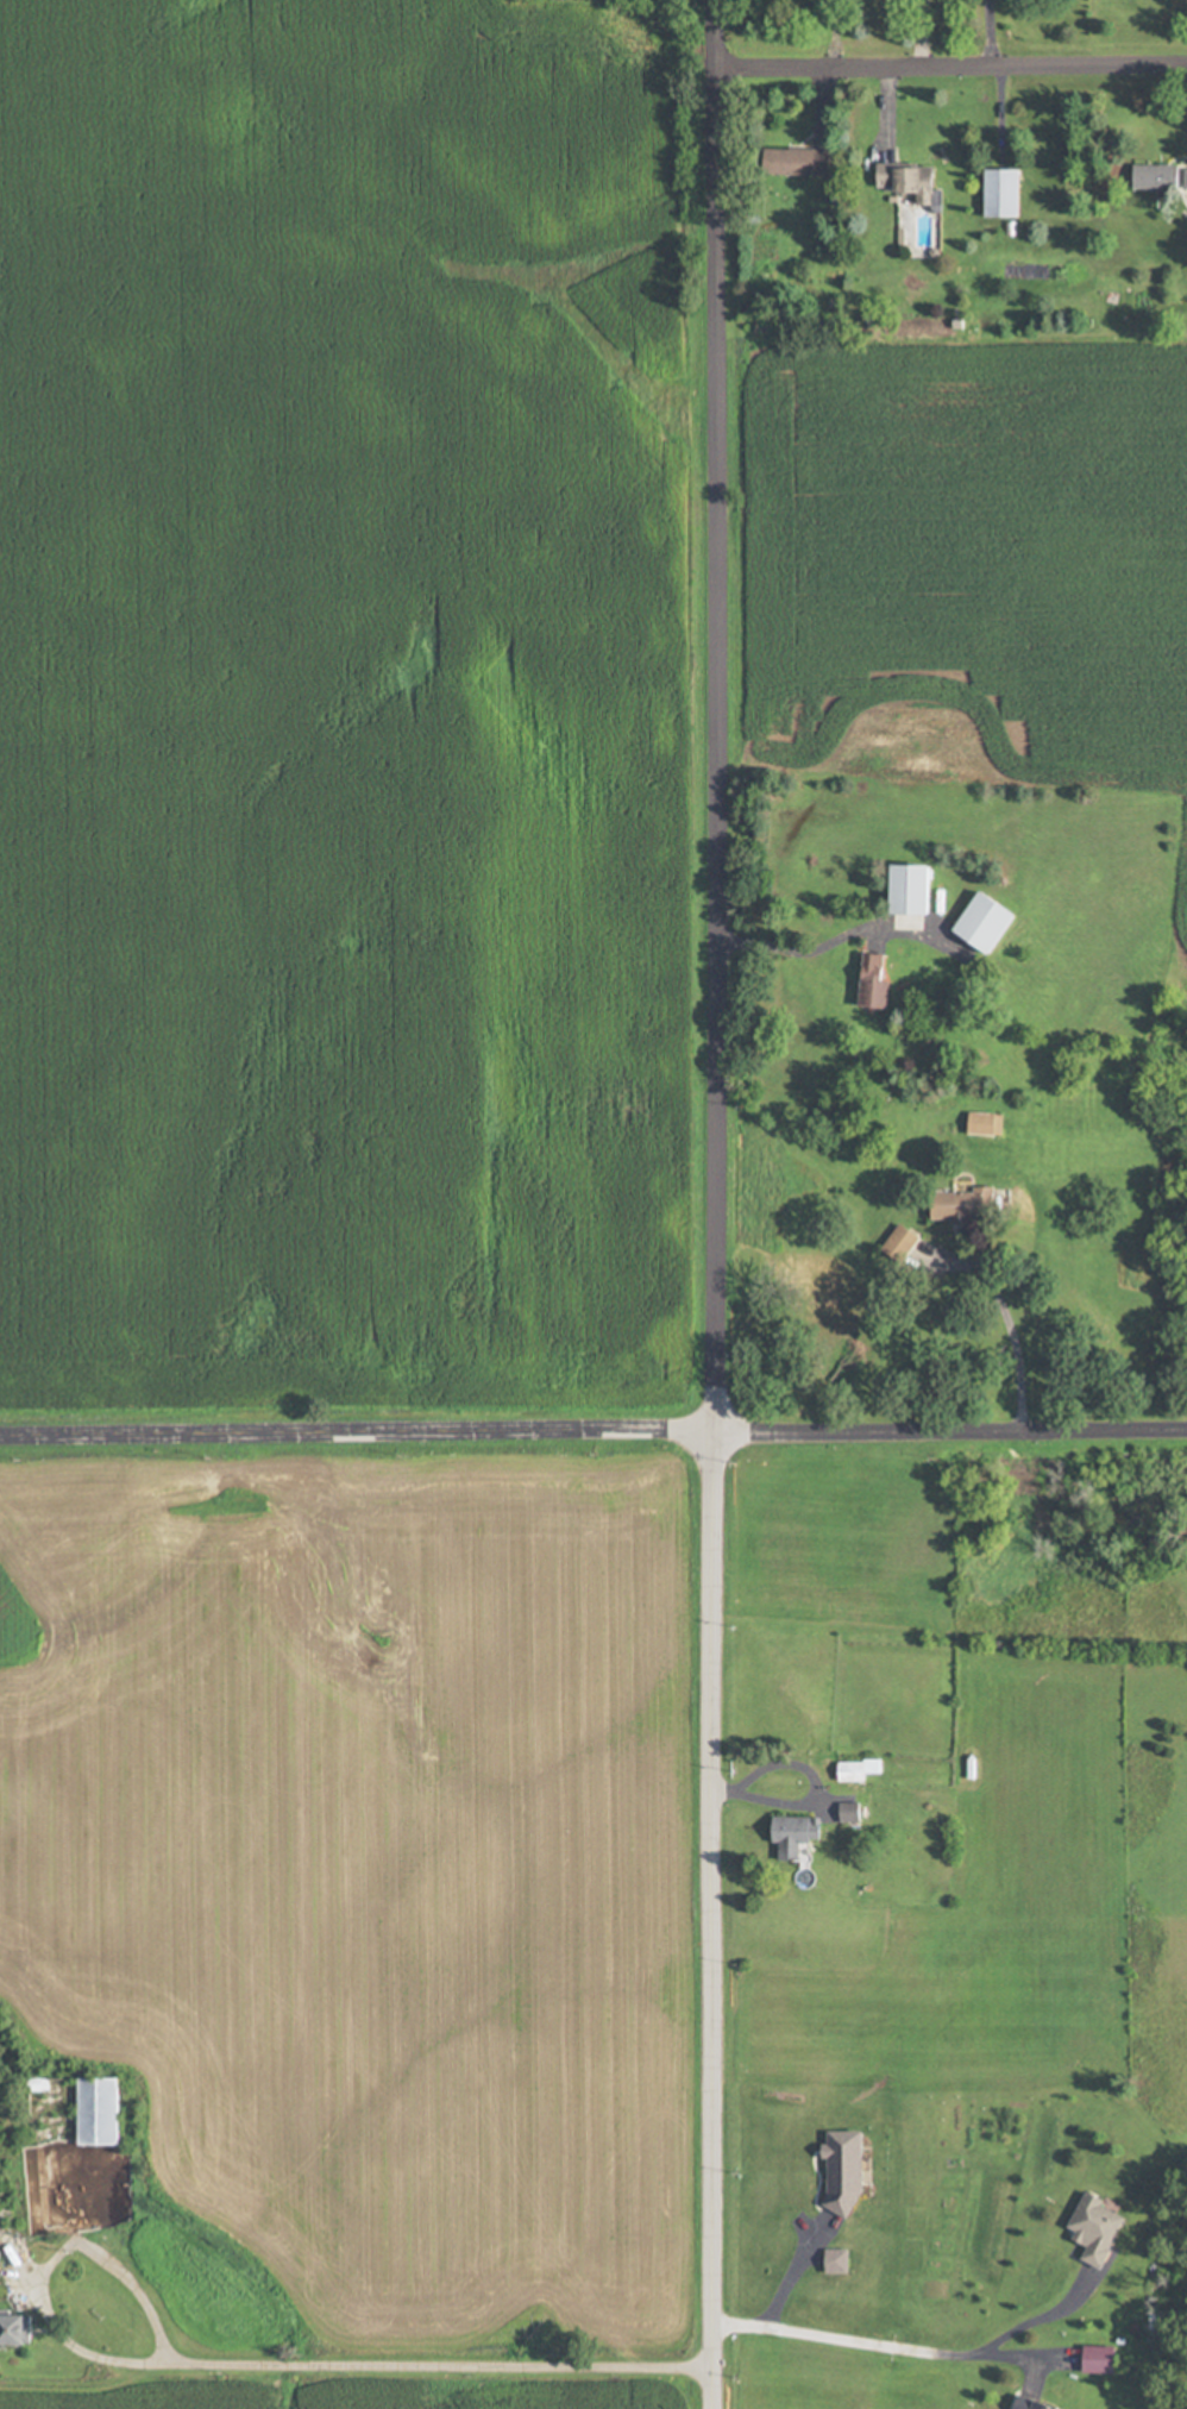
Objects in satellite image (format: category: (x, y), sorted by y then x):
road: (988, 31)
road: (949, 62)
building: (799, 162)
building: (1157, 177)
building: (1185, 178)
building: (911, 181)
building: (1004, 193)
building: (916, 890)
building: (990, 923)
road: (837, 945)
building: (878, 983)
building: (988, 1123)
road: (714, 1204)
building: (971, 1205)
road: (1018, 1354)
road: (593, 1450)
building: (862, 1769)
road: (812, 1795)
building: (800, 1833)
building: (101, 2110)
building: (848, 2171)
building: (1101, 2228)
building: (841, 2260)
building: (1, 2270)
road: (796, 2278)
road: (1037, 2323)
building: (19, 2329)
road: (883, 2347)
building: (1104, 2359)
road: (247, 2364)
building: (1037, 2403)

